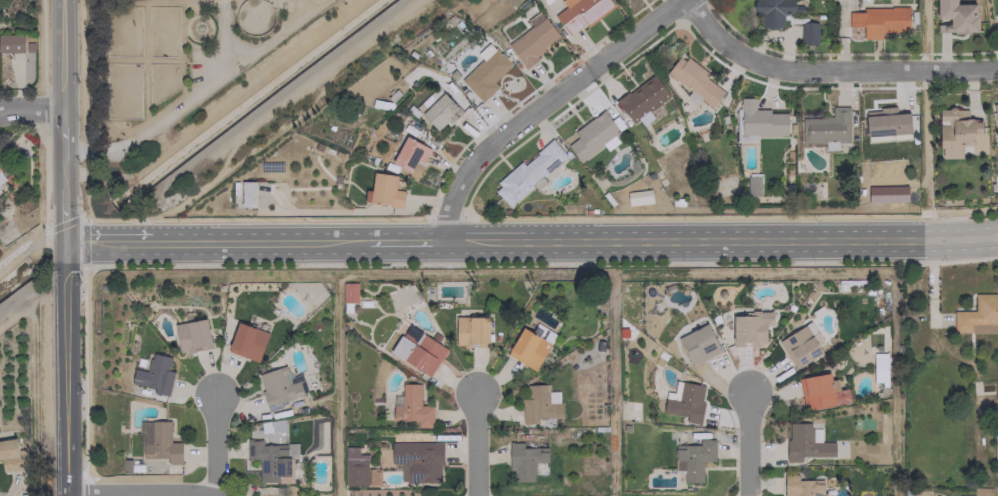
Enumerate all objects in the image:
building: (510, 1)
building: (580, 12)
building: (956, 16)
building: (783, 17)
building: (878, 20)
building: (854, 32)
building: (531, 40)
building: (14, 44)
road: (829, 70)
building: (485, 72)
building: (693, 81)
building: (641, 99)
road: (264, 106)
road: (546, 106)
road: (33, 107)
building: (437, 108)
building: (996, 114)
building: (760, 120)
road: (66, 121)
building: (886, 121)
building: (826, 128)
building: (955, 131)
building: (592, 136)
building: (409, 153)
building: (528, 173)
building: (1, 176)
building: (753, 184)
building: (383, 190)
building: (246, 193)
building: (886, 194)
building: (638, 196)
road: (81, 223)
road: (726, 240)
road: (258, 241)
road: (406, 241)
traffic signals: (66, 242)
road: (111, 242)
building: (348, 292)
road: (30, 295)
building: (978, 315)
building: (750, 328)
building: (471, 331)
building: (191, 335)
building: (246, 341)
building: (698, 344)
building: (799, 345)
building: (527, 348)
building: (417, 352)
building: (878, 368)
road: (66, 369)
building: (154, 374)
building: (277, 387)
building: (820, 391)
building: (684, 402)
building: (539, 403)
building: (412, 406)
building: (159, 442)
building: (805, 442)
road: (214, 443)
road: (474, 443)
road: (746, 444)
building: (995, 446)
building: (10, 455)
building: (693, 458)
building: (272, 460)
building: (417, 460)
building: (524, 460)
building: (354, 467)
building: (801, 486)
road: (139, 492)

